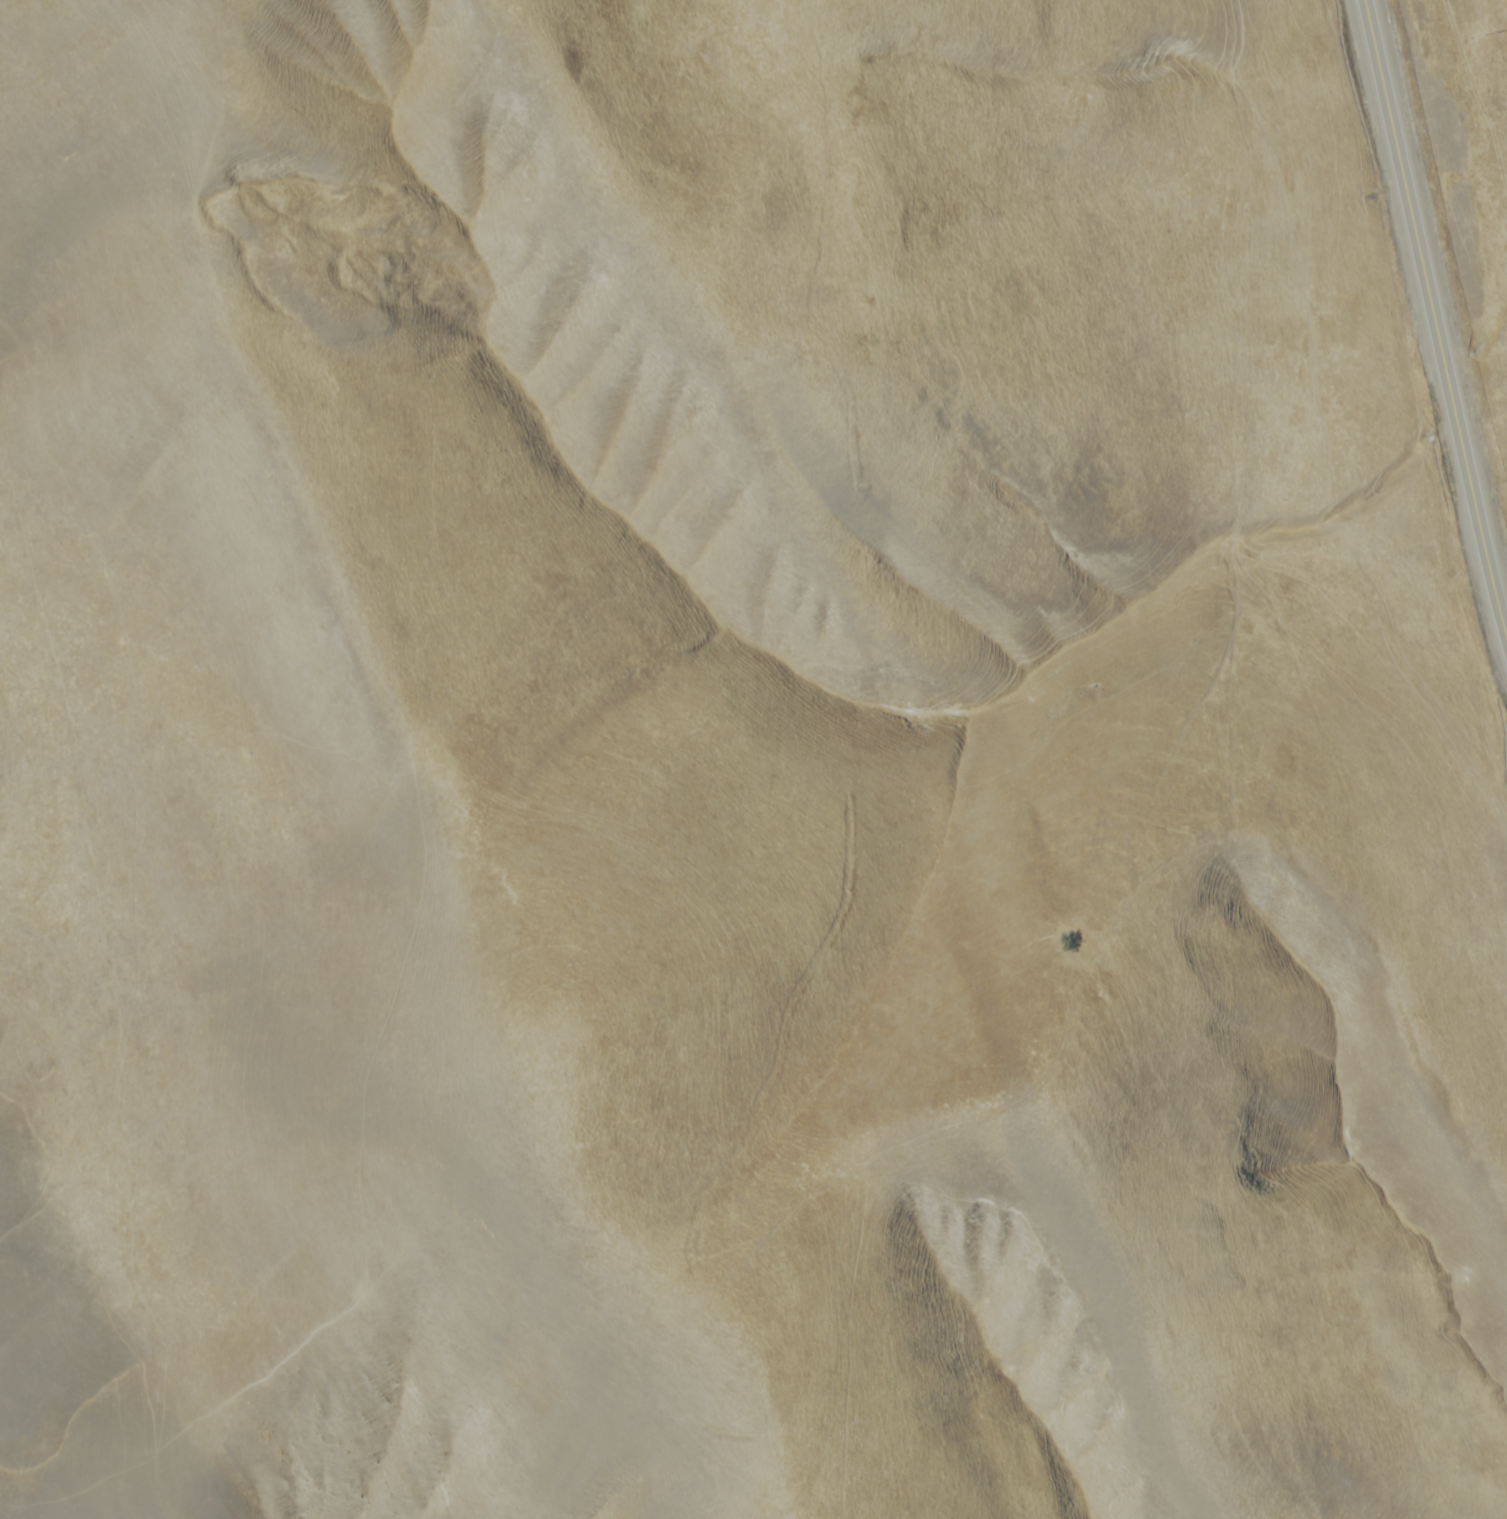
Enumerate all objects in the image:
road: (1434, 317)

